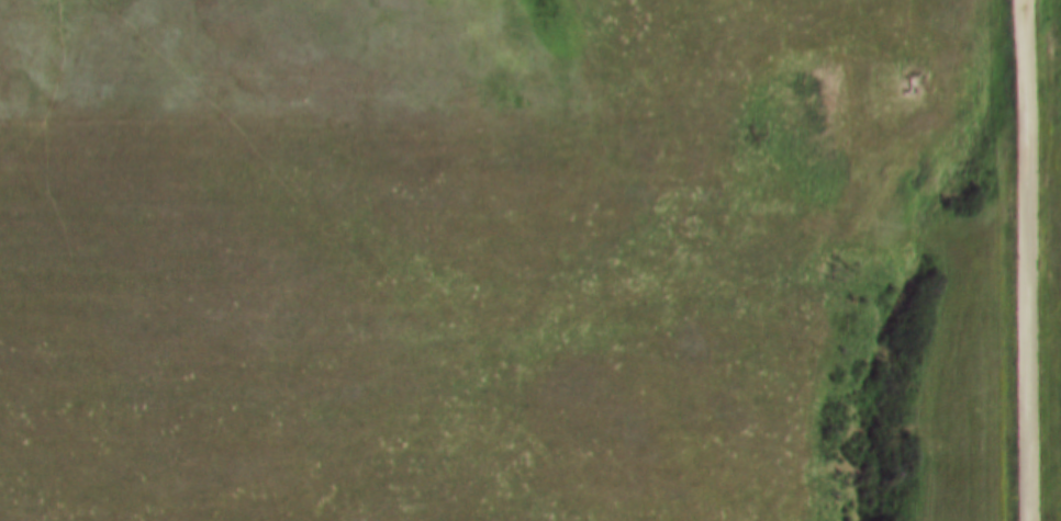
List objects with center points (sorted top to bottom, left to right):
road: (1040, 260)

